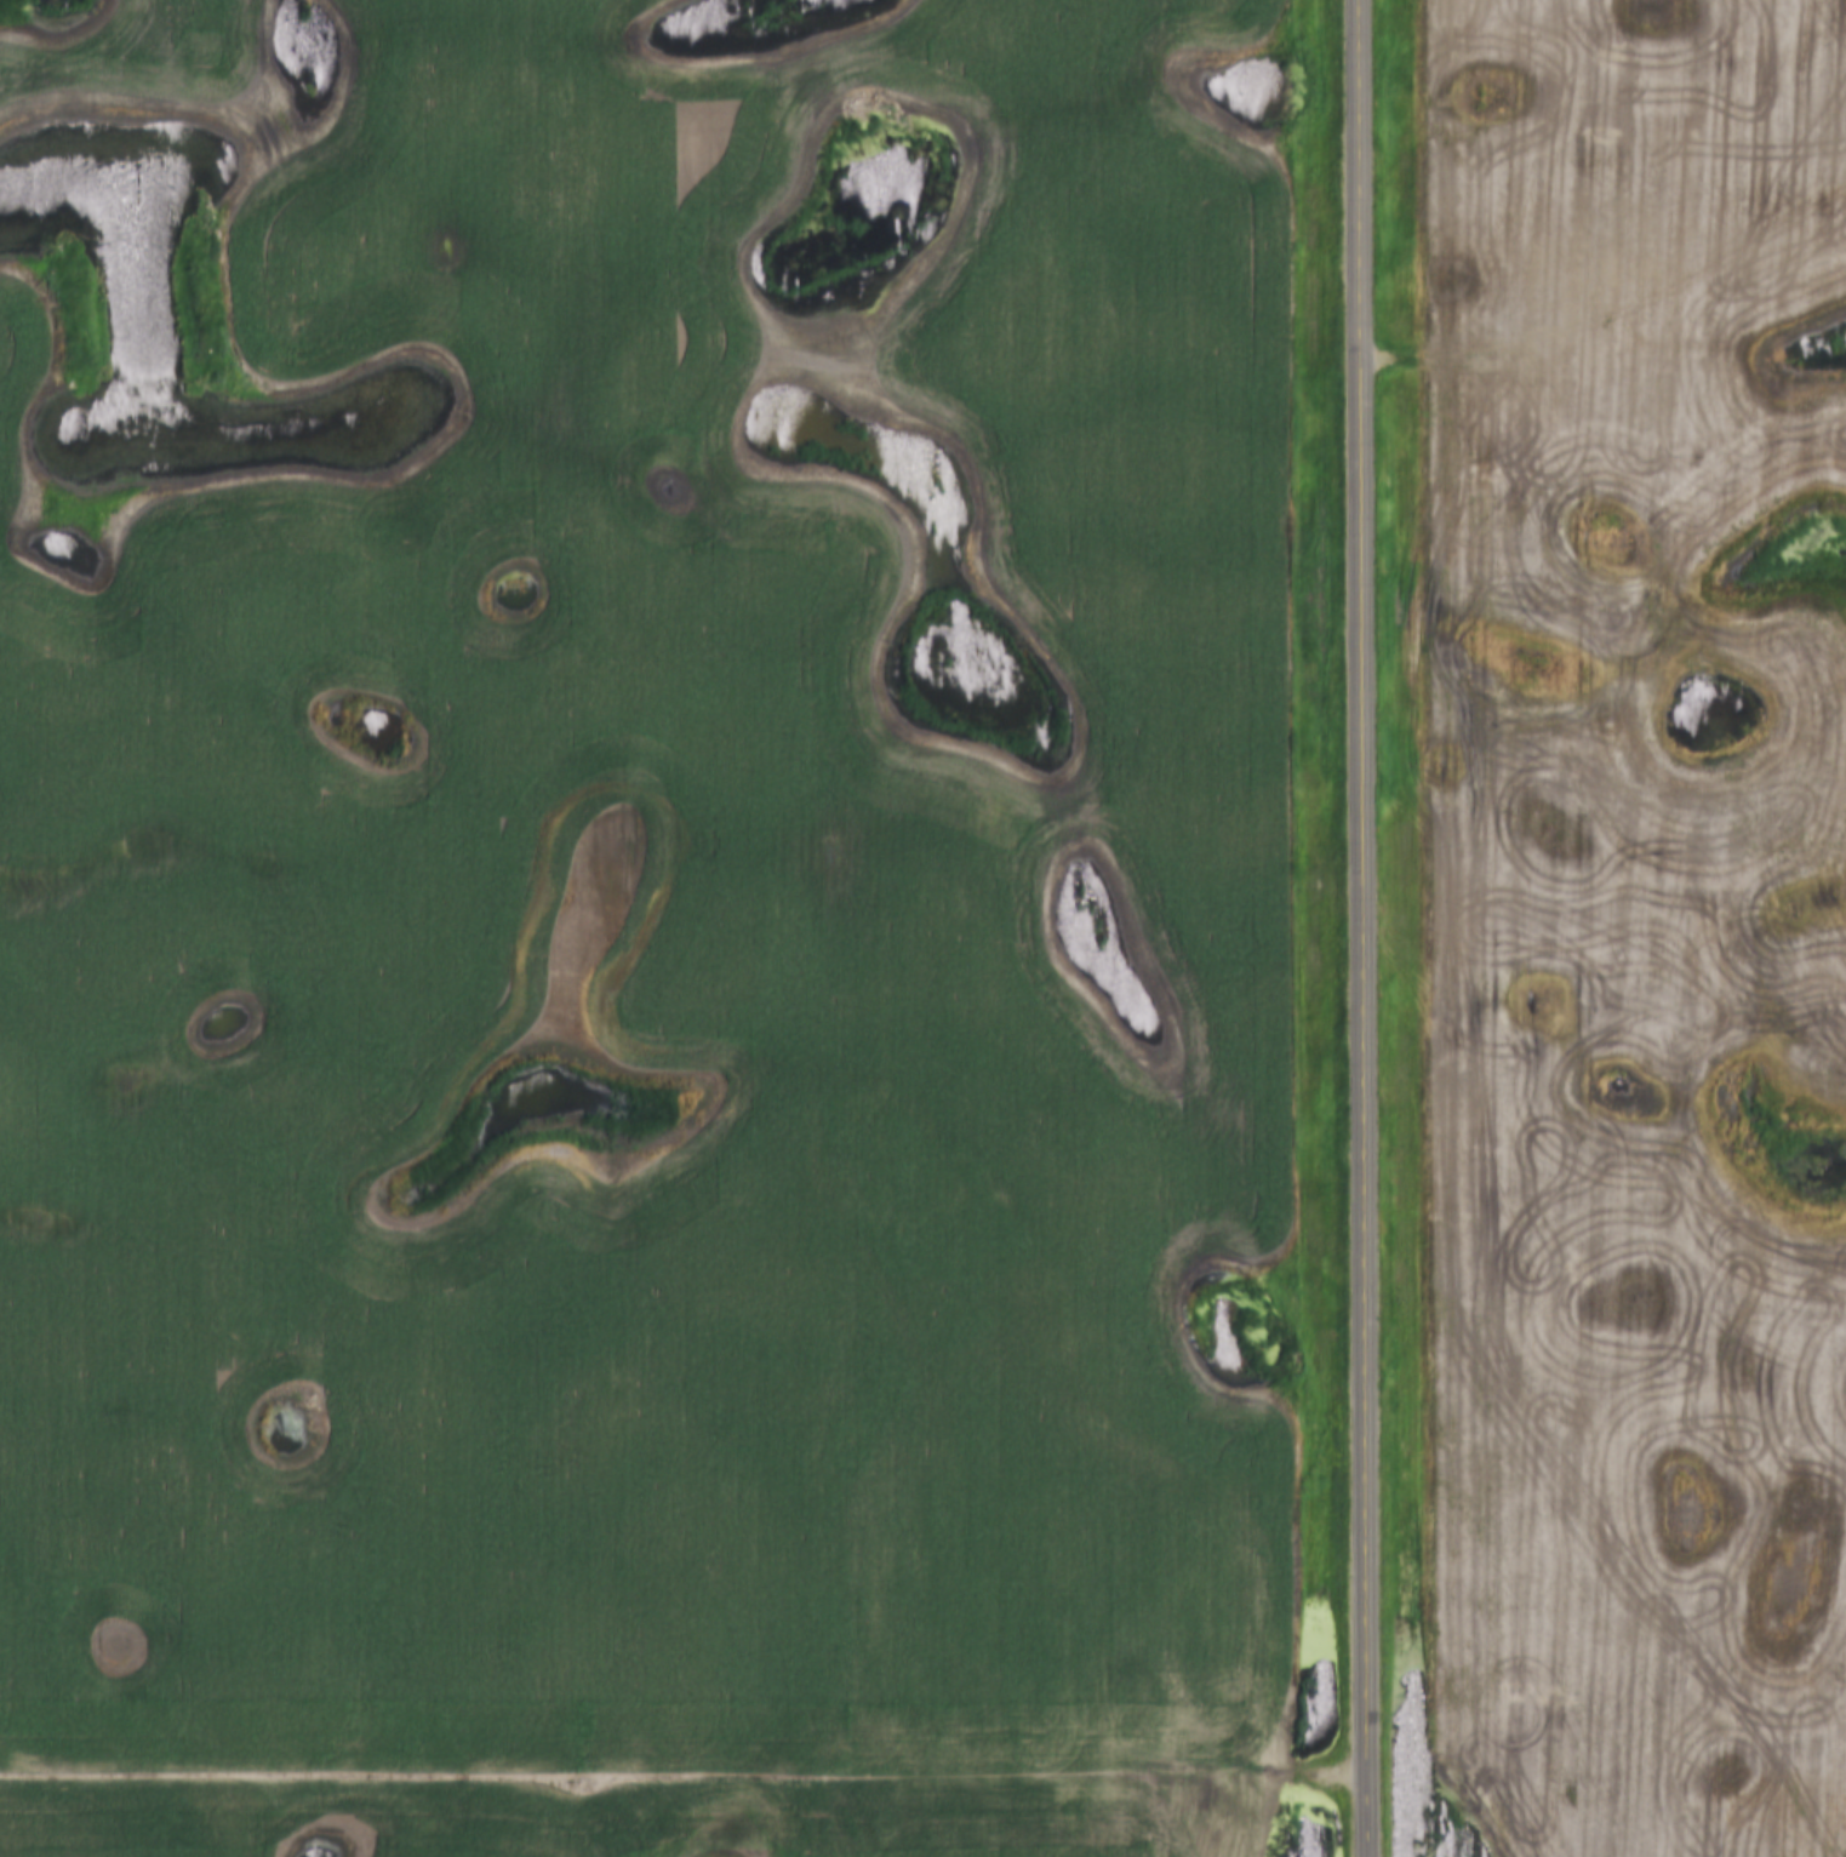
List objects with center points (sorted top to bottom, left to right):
road: (1365, 927)
road: (682, 1775)

